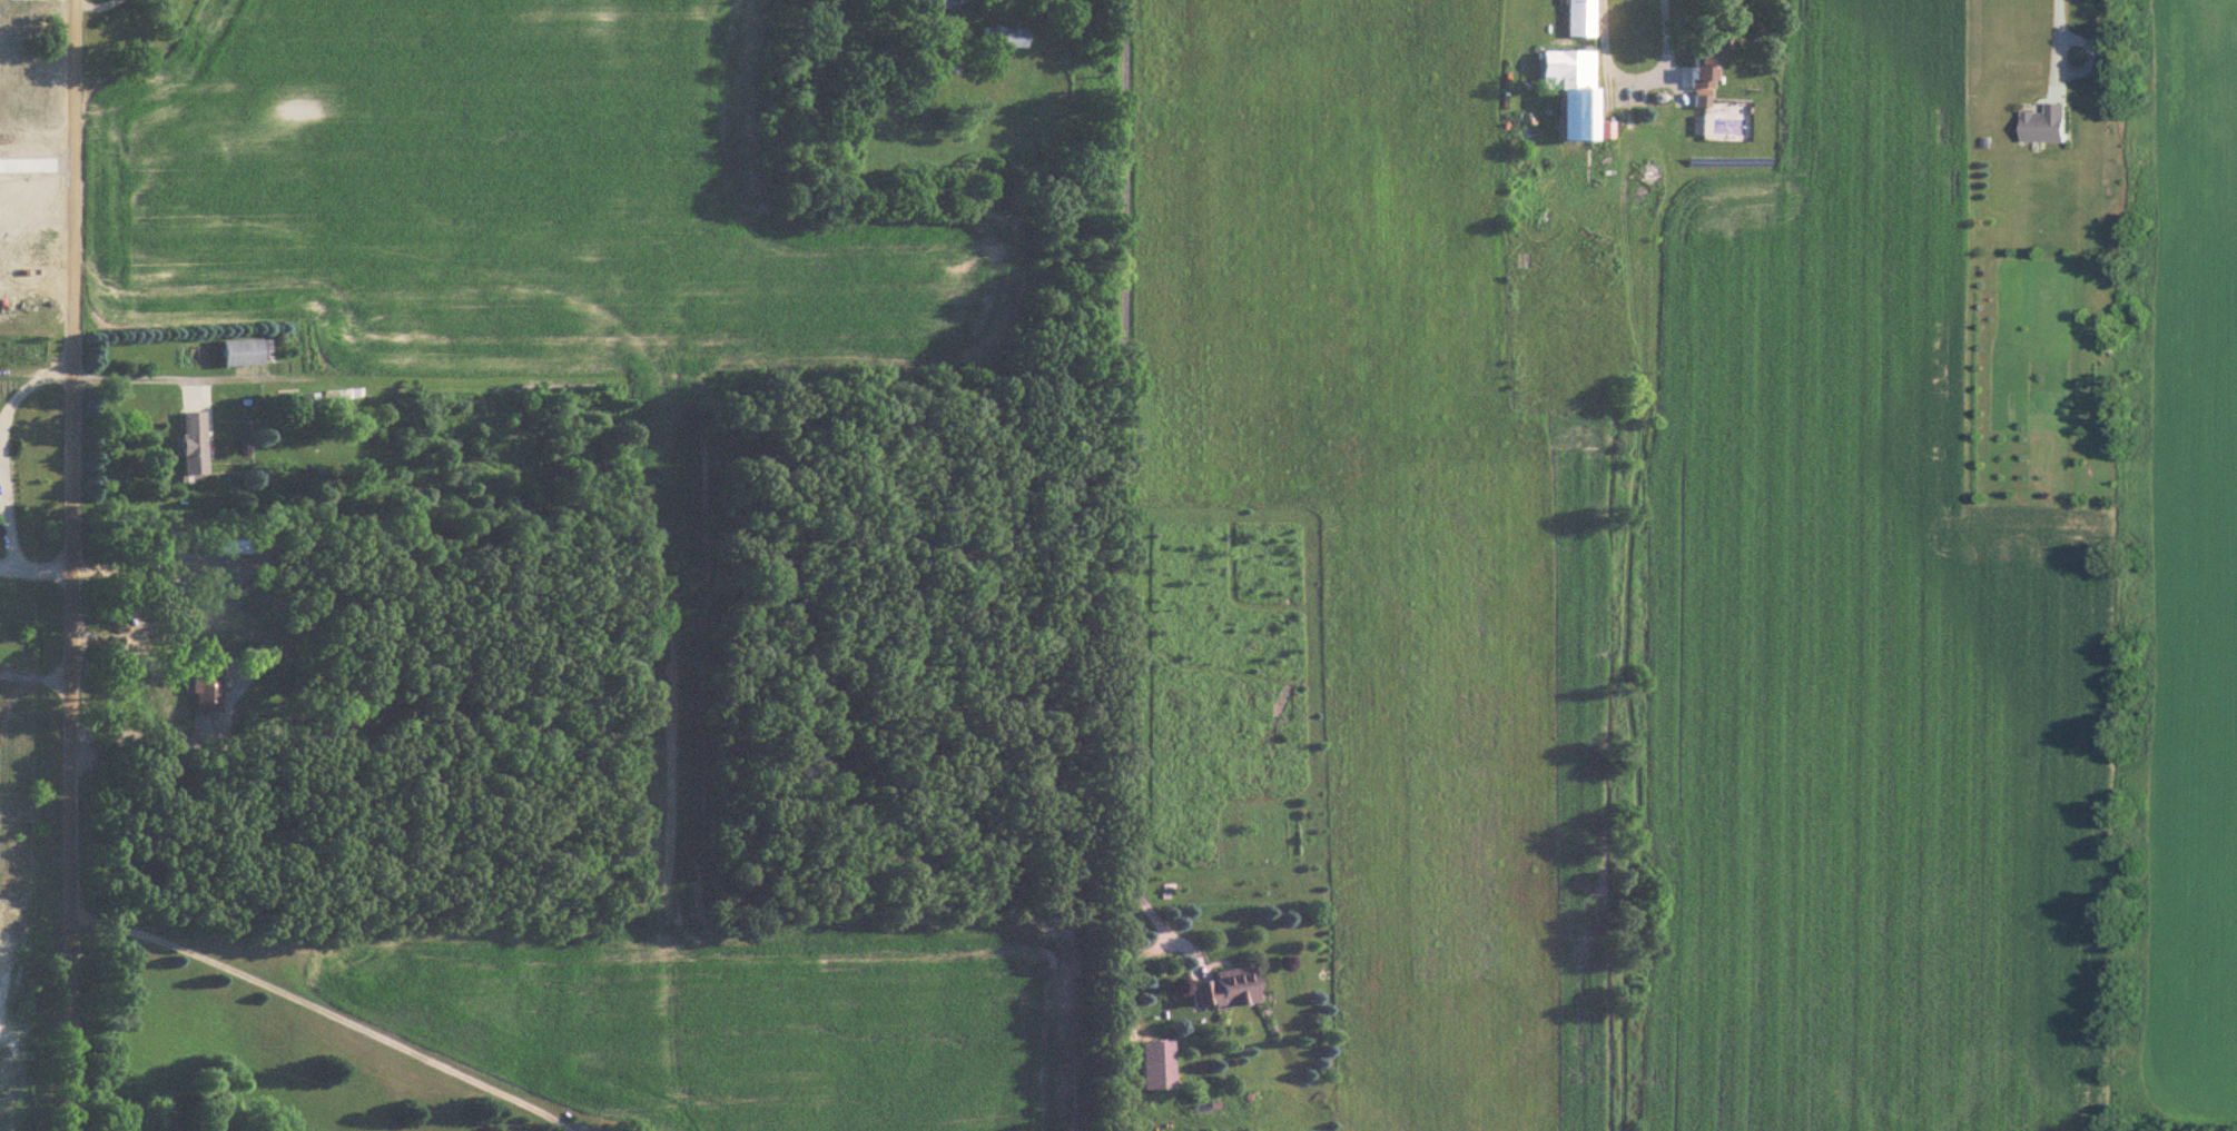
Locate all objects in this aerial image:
road: (90, 1)
building: (930, 2)
building: (1575, 17)
building: (999, 36)
road: (2053, 37)
building: (1702, 41)
road: (1632, 76)
building: (6, 86)
building: (1564, 88)
building: (2041, 121)
building: (242, 349)
road: (190, 377)
road: (27, 383)
building: (289, 399)
building: (188, 439)
road: (1123, 462)
road: (6, 524)
road: (70, 565)
road: (35, 569)
building: (1218, 986)
road: (327, 1010)

